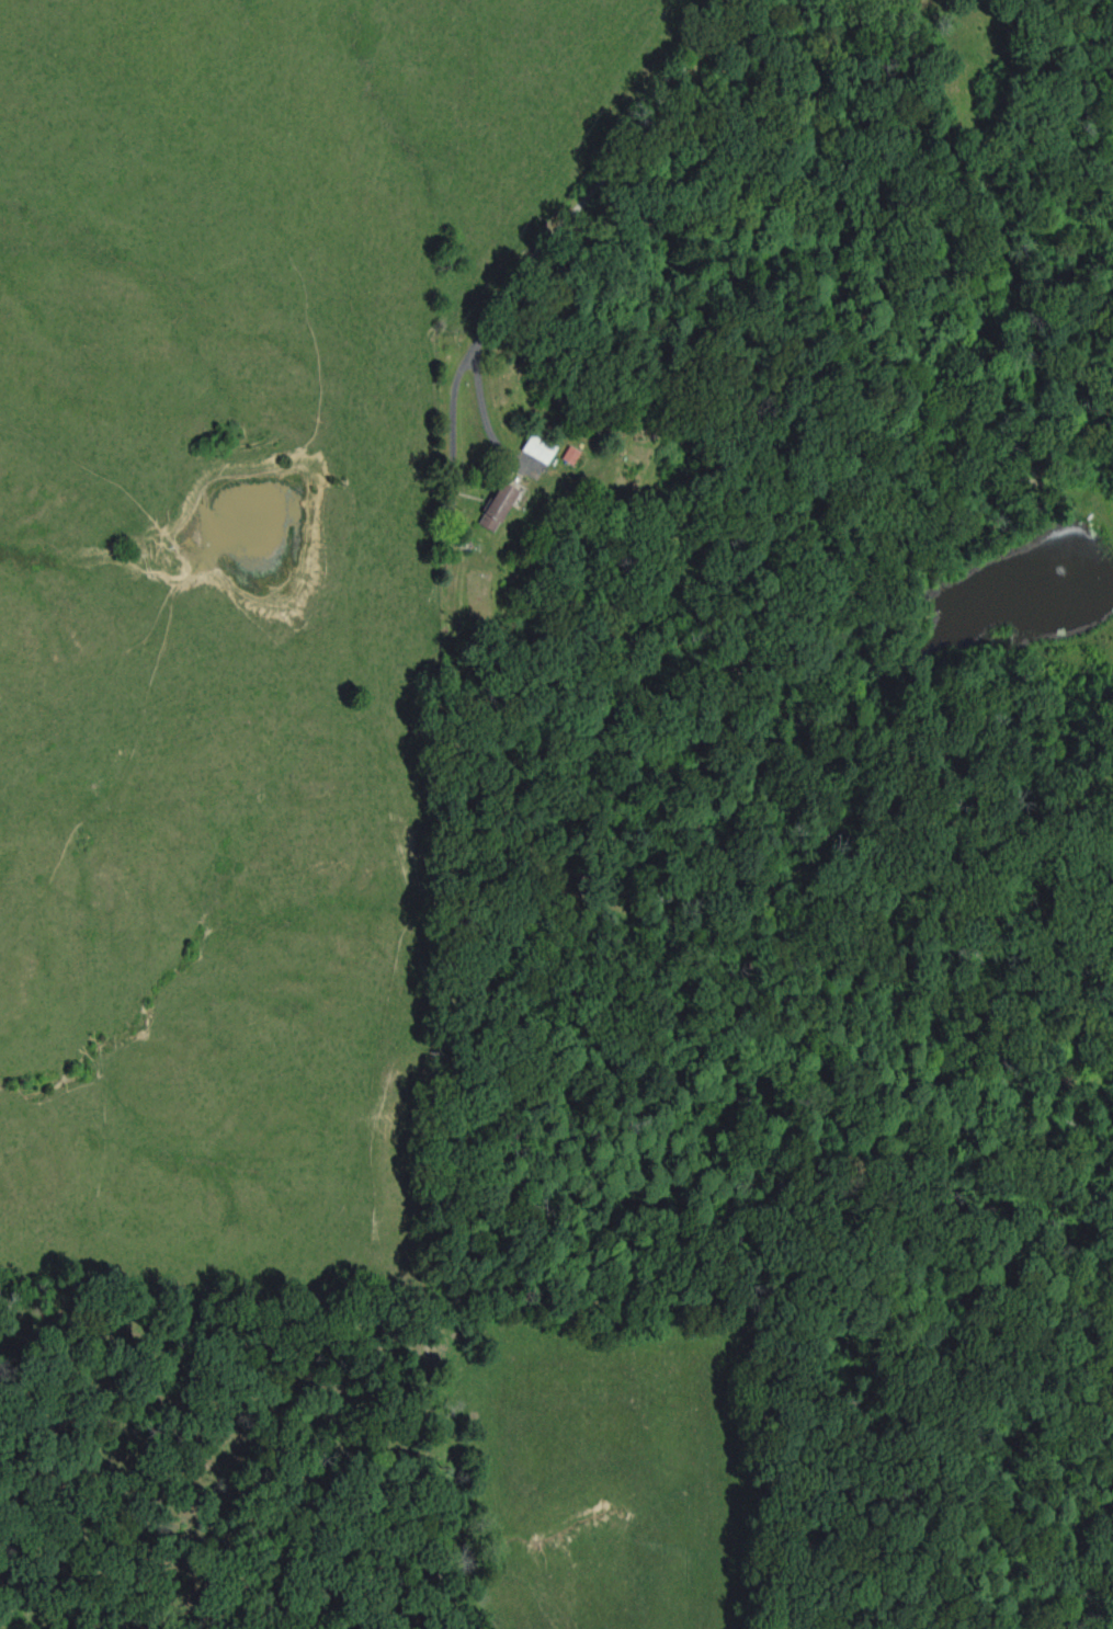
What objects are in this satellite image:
road: (563, 210)
building: (534, 446)
building: (567, 454)
building: (490, 505)

